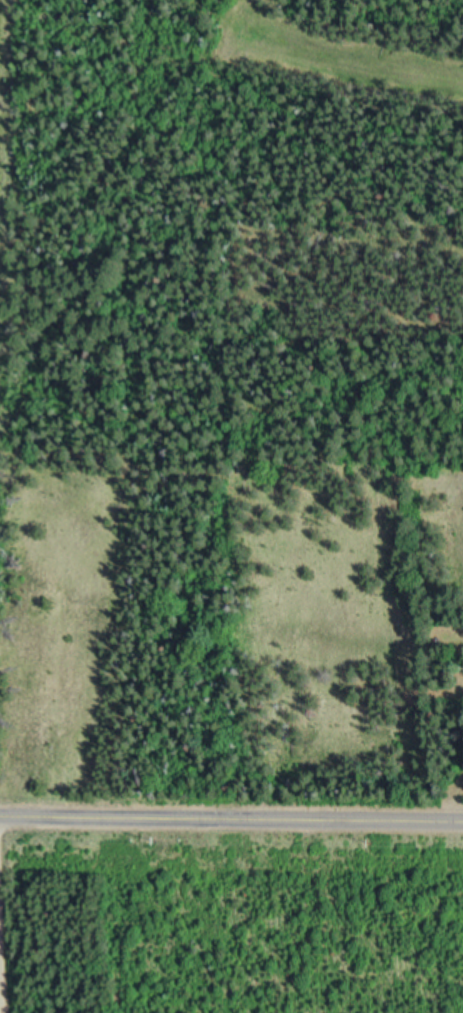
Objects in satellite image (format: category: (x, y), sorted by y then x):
road: (231, 826)

